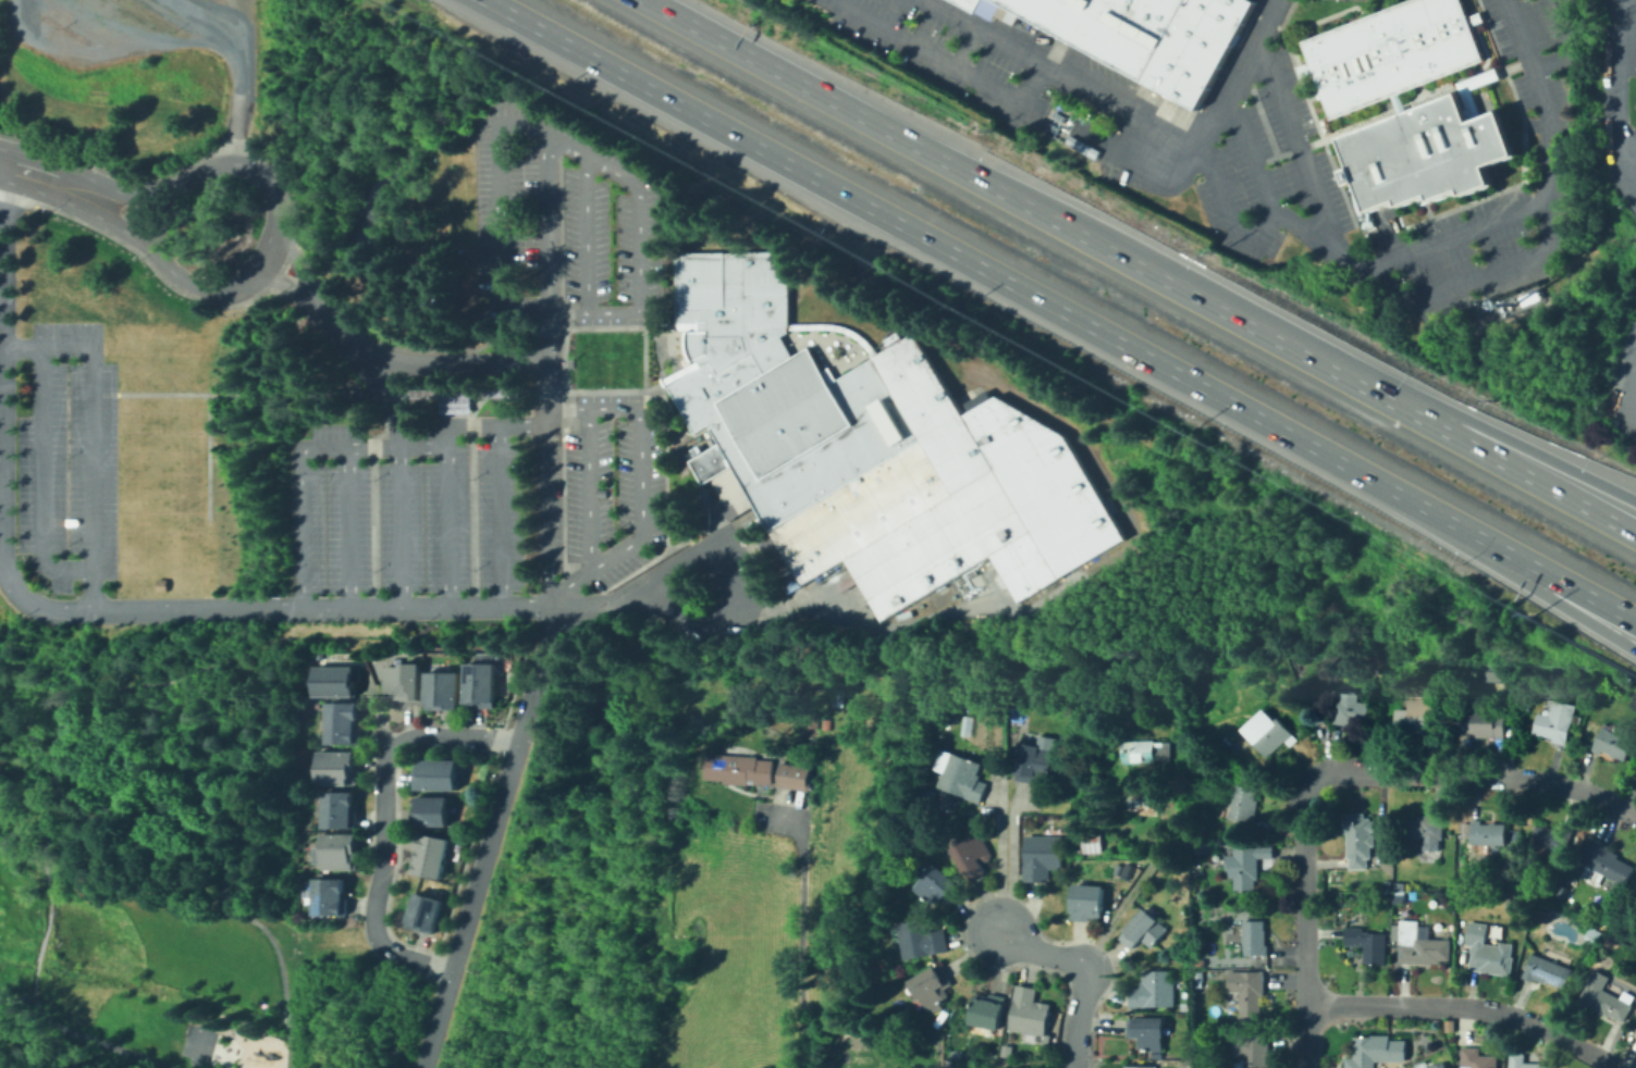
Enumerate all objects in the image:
parking lot: (1349, 0)
road: (204, 16)
road: (104, 23)
building: (1140, 34)
road: (1571, 45)
road: (963, 48)
road: (133, 49)
road: (1625, 58)
road: (936, 60)
parking lot: (1633, 75)
parking lot: (1017, 80)
road: (243, 98)
road: (1615, 99)
building: (1348, 101)
road: (1120, 108)
road: (1204, 137)
parking lot: (1554, 158)
road: (1627, 161)
road: (1635, 162)
road: (0, 164)
road: (2, 166)
road: (958, 167)
parking lot: (1269, 167)
road: (1260, 179)
road: (501, 212)
road: (156, 222)
road: (272, 226)
road: (922, 232)
road: (1389, 234)
road: (589, 235)
road: (1454, 235)
road: (639, 240)
road: (293, 262)
road: (281, 282)
road: (1451, 289)
road: (596, 327)
road: (457, 360)
road: (567, 365)
road: (370, 367)
road: (550, 371)
building: (306, 394)
road: (382, 395)
building: (462, 396)
road: (1456, 412)
road: (501, 424)
road: (94, 431)
road: (1454, 434)
road: (414, 447)
road: (339, 448)
building: (688, 448)
building: (876, 450)
road: (209, 455)
road: (44, 479)
road: (641, 485)
road: (593, 488)
road: (476, 498)
building: (704, 499)
road: (374, 500)
road: (1425, 507)
road: (452, 514)
road: (502, 514)
road: (350, 526)
road: (404, 526)
road: (304, 527)
road: (2, 529)
building: (780, 563)
road: (4, 571)
building: (159, 584)
road: (1570, 585)
road: (246, 606)
road: (1564, 606)
road: (550, 619)
road: (863, 622)
road: (546, 646)
building: (340, 680)
building: (405, 682)
road: (130, 683)
building: (482, 683)
building: (446, 690)
building: (1351, 710)
building: (1416, 716)
building: (947, 718)
building: (813, 719)
building: (1576, 719)
building: (1555, 721)
building: (346, 722)
building: (1486, 724)
building: (1202, 731)
building: (1268, 732)
building: (1228, 733)
road: (258, 734)
building: (1612, 743)
building: (813, 745)
building: (1146, 750)
building: (1063, 760)
building: (1033, 761)
building: (340, 767)
building: (738, 770)
building: (438, 775)
building: (960, 775)
road: (1476, 775)
building: (795, 778)
building: (927, 796)
building: (1145, 800)
building: (1245, 804)
building: (342, 809)
road: (149, 811)
building: (431, 811)
road: (382, 818)
road: (395, 822)
building: (1428, 830)
building: (1487, 833)
building: (1360, 837)
building: (1553, 839)
building: (1093, 842)
building: (1204, 848)
building: (1078, 849)
building: (342, 850)
road: (40, 855)
building: (974, 855)
building: (431, 856)
road: (1009, 857)
building: (1044, 857)
road: (460, 859)
road: (483, 864)
building: (1603, 864)
building: (1247, 865)
building: (1120, 868)
building: (1129, 870)
park: (172, 875)
building: (1466, 883)
building: (939, 885)
building: (1400, 885)
building: (1356, 886)
building: (1634, 889)
road: (988, 894)
building: (1419, 894)
building: (333, 896)
building: (1401, 898)
building: (1090, 903)
building: (1514, 906)
building: (427, 914)
road: (1308, 922)
road: (263, 931)
building: (1595, 932)
road: (799, 933)
building: (1144, 933)
building: (1255, 937)
building: (923, 940)
road: (40, 942)
building: (1368, 943)
building: (1420, 945)
building: (1488, 952)
road: (1085, 969)
building: (1547, 970)
building: (1197, 978)
building: (934, 988)
building: (1246, 991)
building: (1155, 992)
building: (1627, 995)
building: (1604, 1002)
building: (1186, 1007)
road: (1469, 1009)
building: (1635, 1010)
building: (989, 1011)
building: (1031, 1013)
building: (1448, 1024)
building: (1635, 1032)
road: (85, 1034)
building: (1148, 1034)
park: (211, 1045)
building: (859, 1045)
building: (1252, 1050)
building: (1371, 1050)
building: (1008, 1052)
building: (957, 1055)
building: (1474, 1057)
building: (1522, 1061)
building: (1418, 1063)
building: (1136, 1066)

